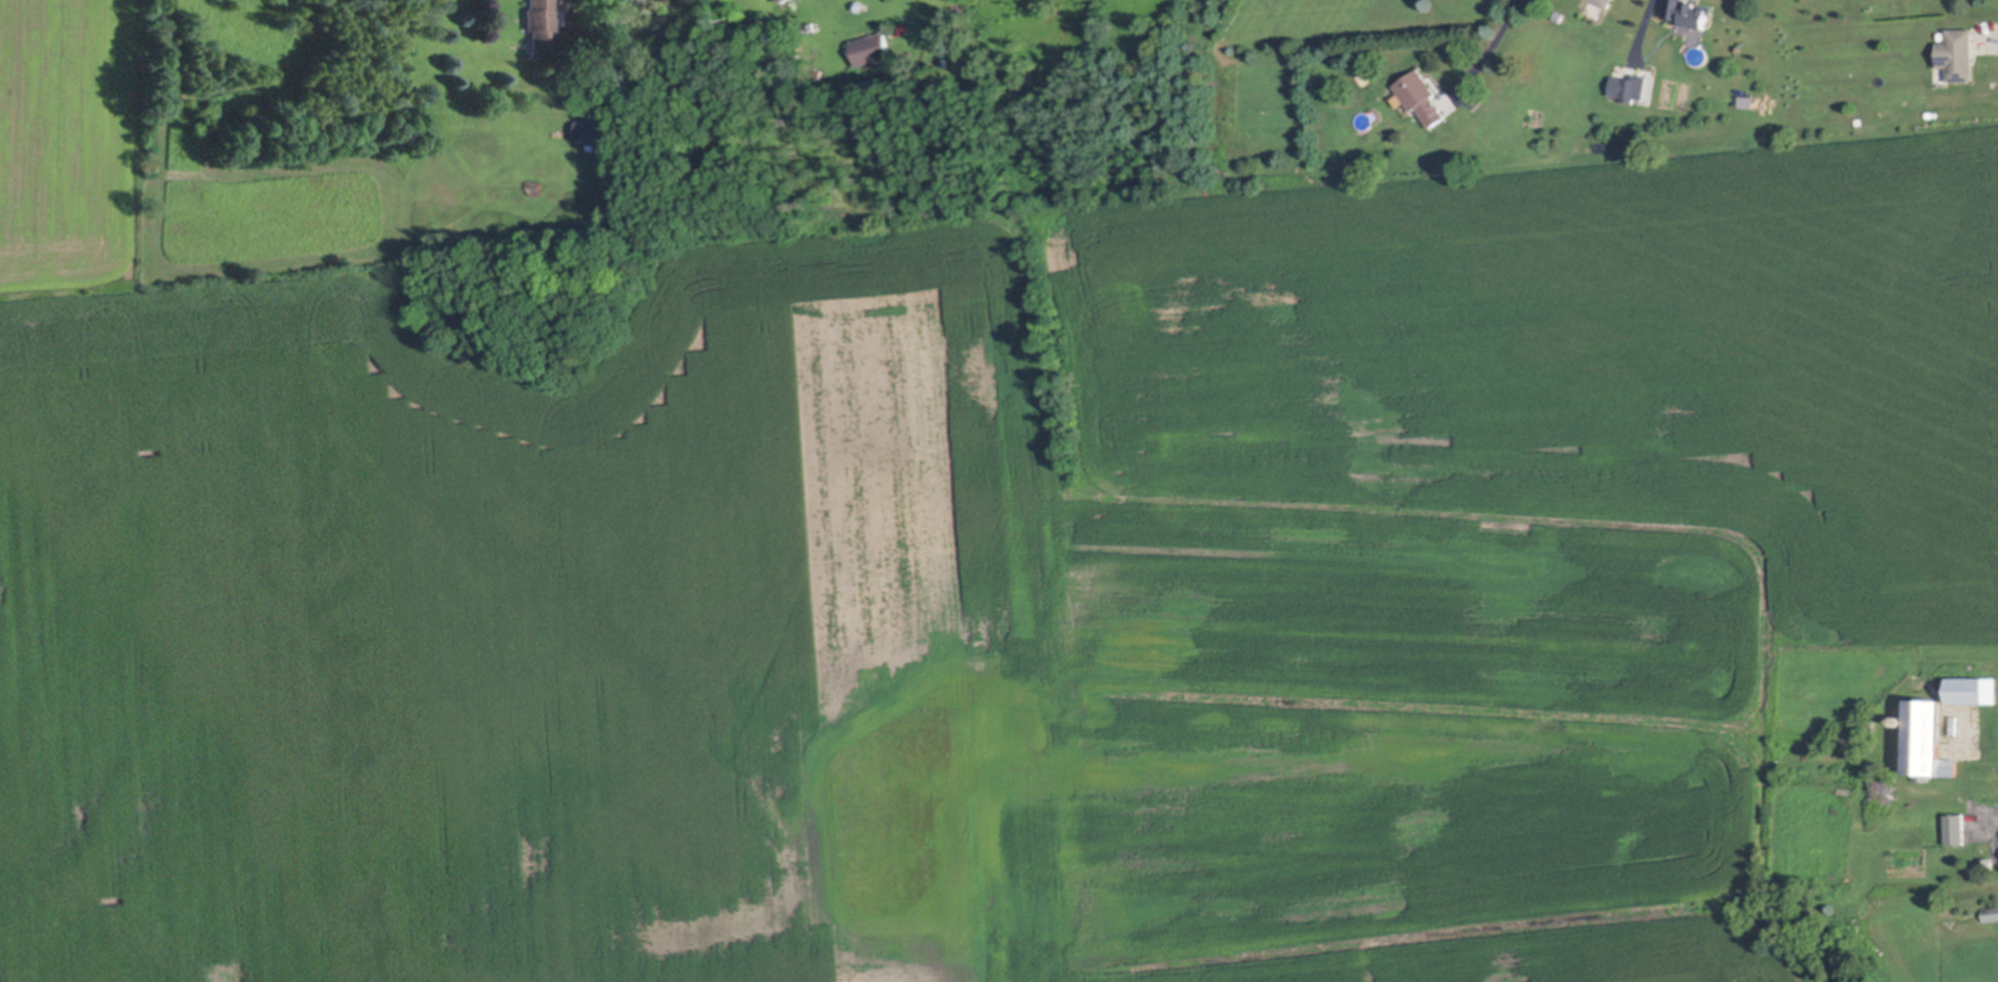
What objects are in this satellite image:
building: (786, 1)
building: (1606, 3)
building: (1691, 13)
building: (1560, 14)
building: (540, 24)
road: (1493, 38)
road: (1987, 47)
building: (874, 49)
building: (827, 53)
building: (1959, 55)
building: (870, 83)
building: (1635, 87)
building: (1421, 98)
building: (1744, 100)
building: (596, 132)
crop: (964, 570)
building: (1967, 688)
building: (1901, 719)
building: (1927, 735)
building: (1883, 793)
road: (1988, 821)
building: (1906, 824)
building: (1956, 828)
building: (1989, 863)
building: (1992, 913)

